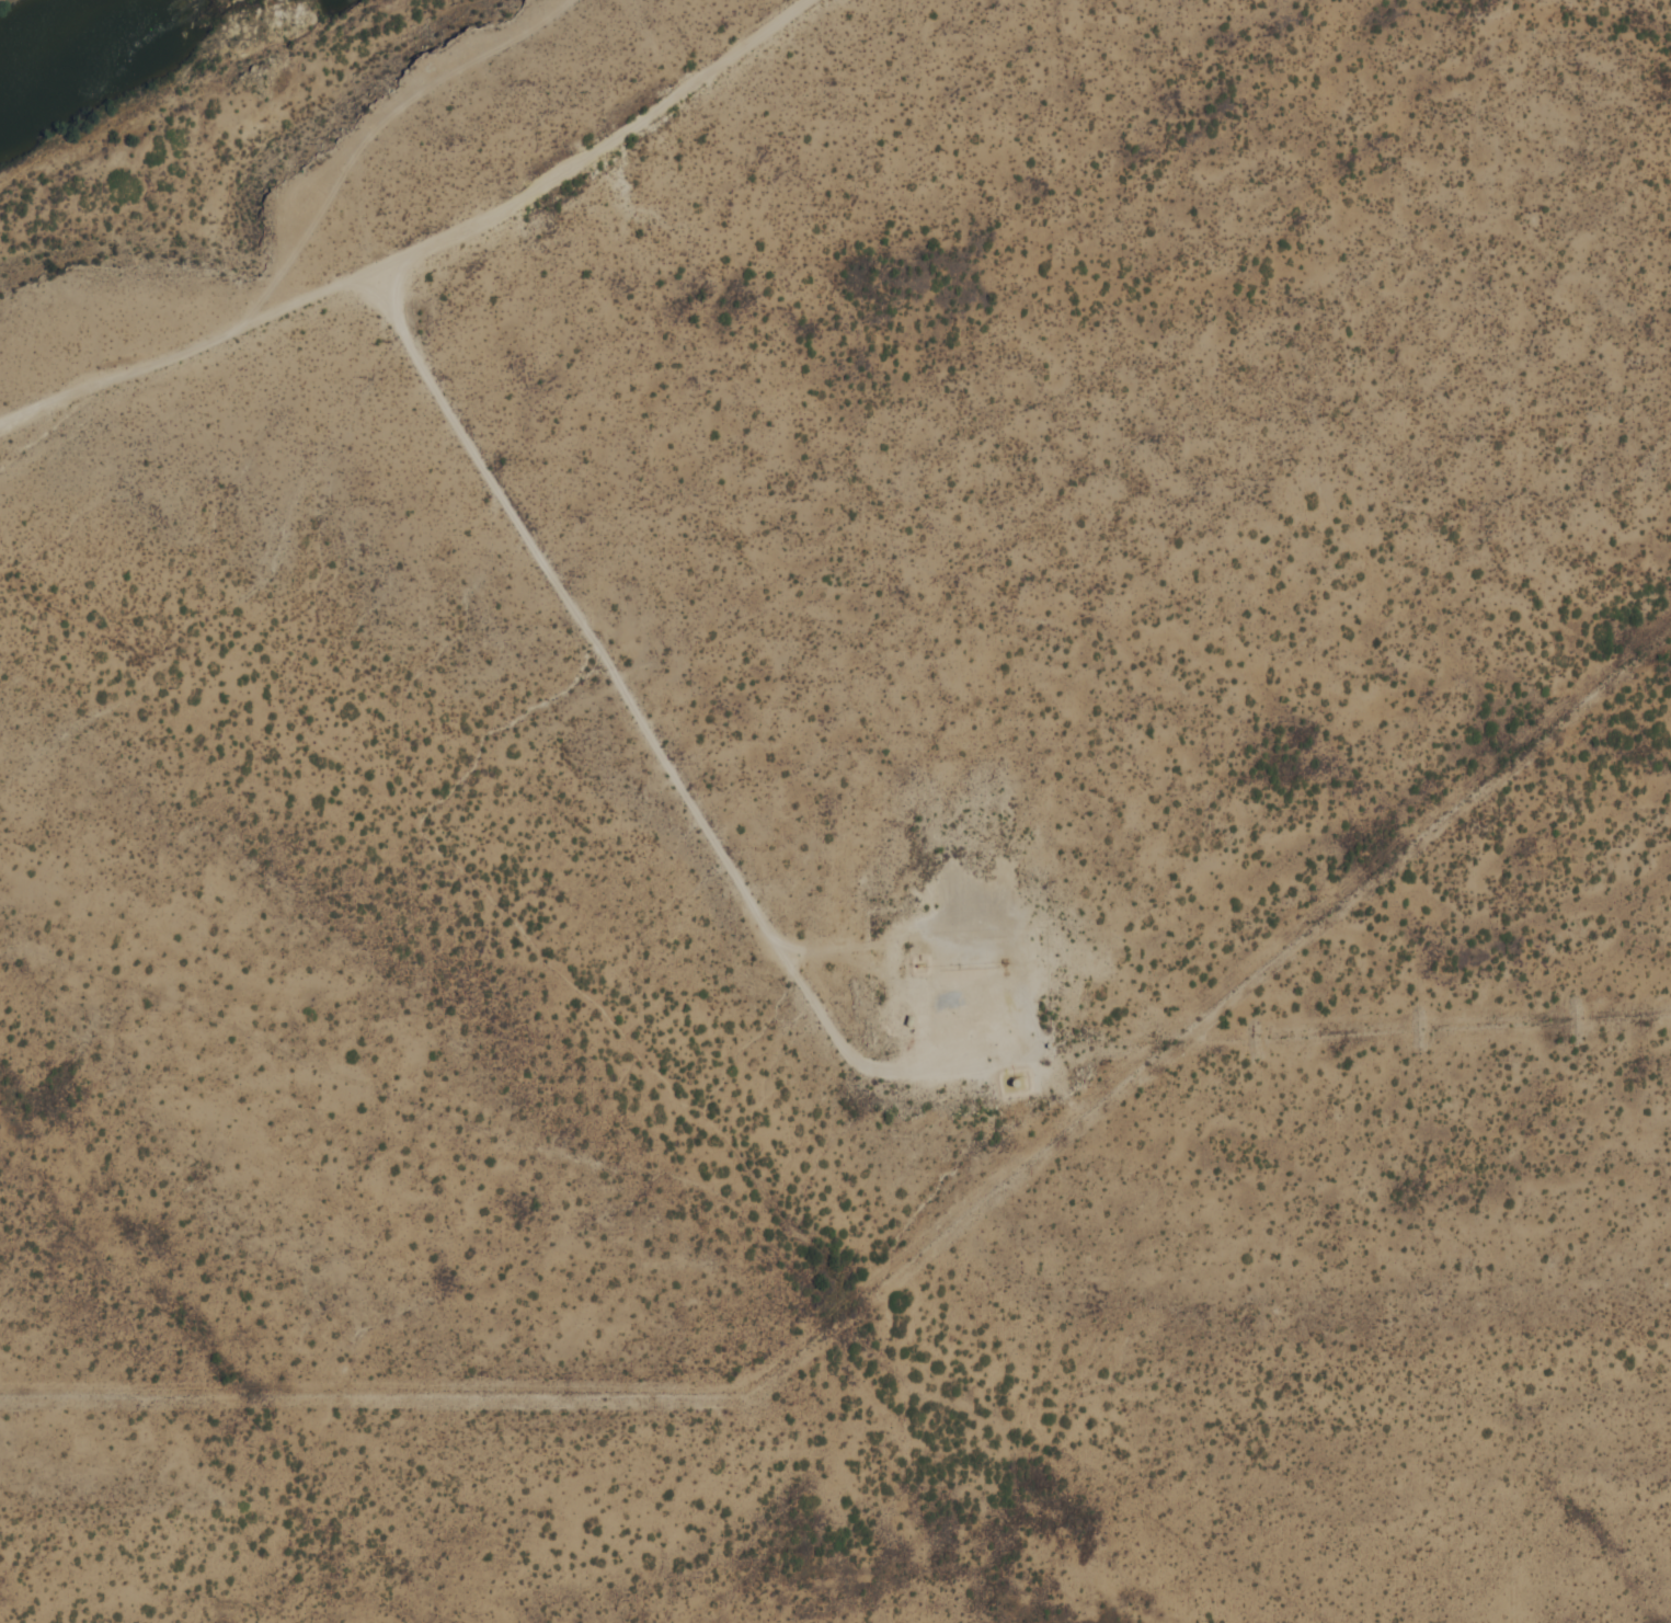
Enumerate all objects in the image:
river: (105, 42)
road: (412, 100)
road: (599, 151)
road: (300, 245)
road: (187, 353)
road: (648, 729)

